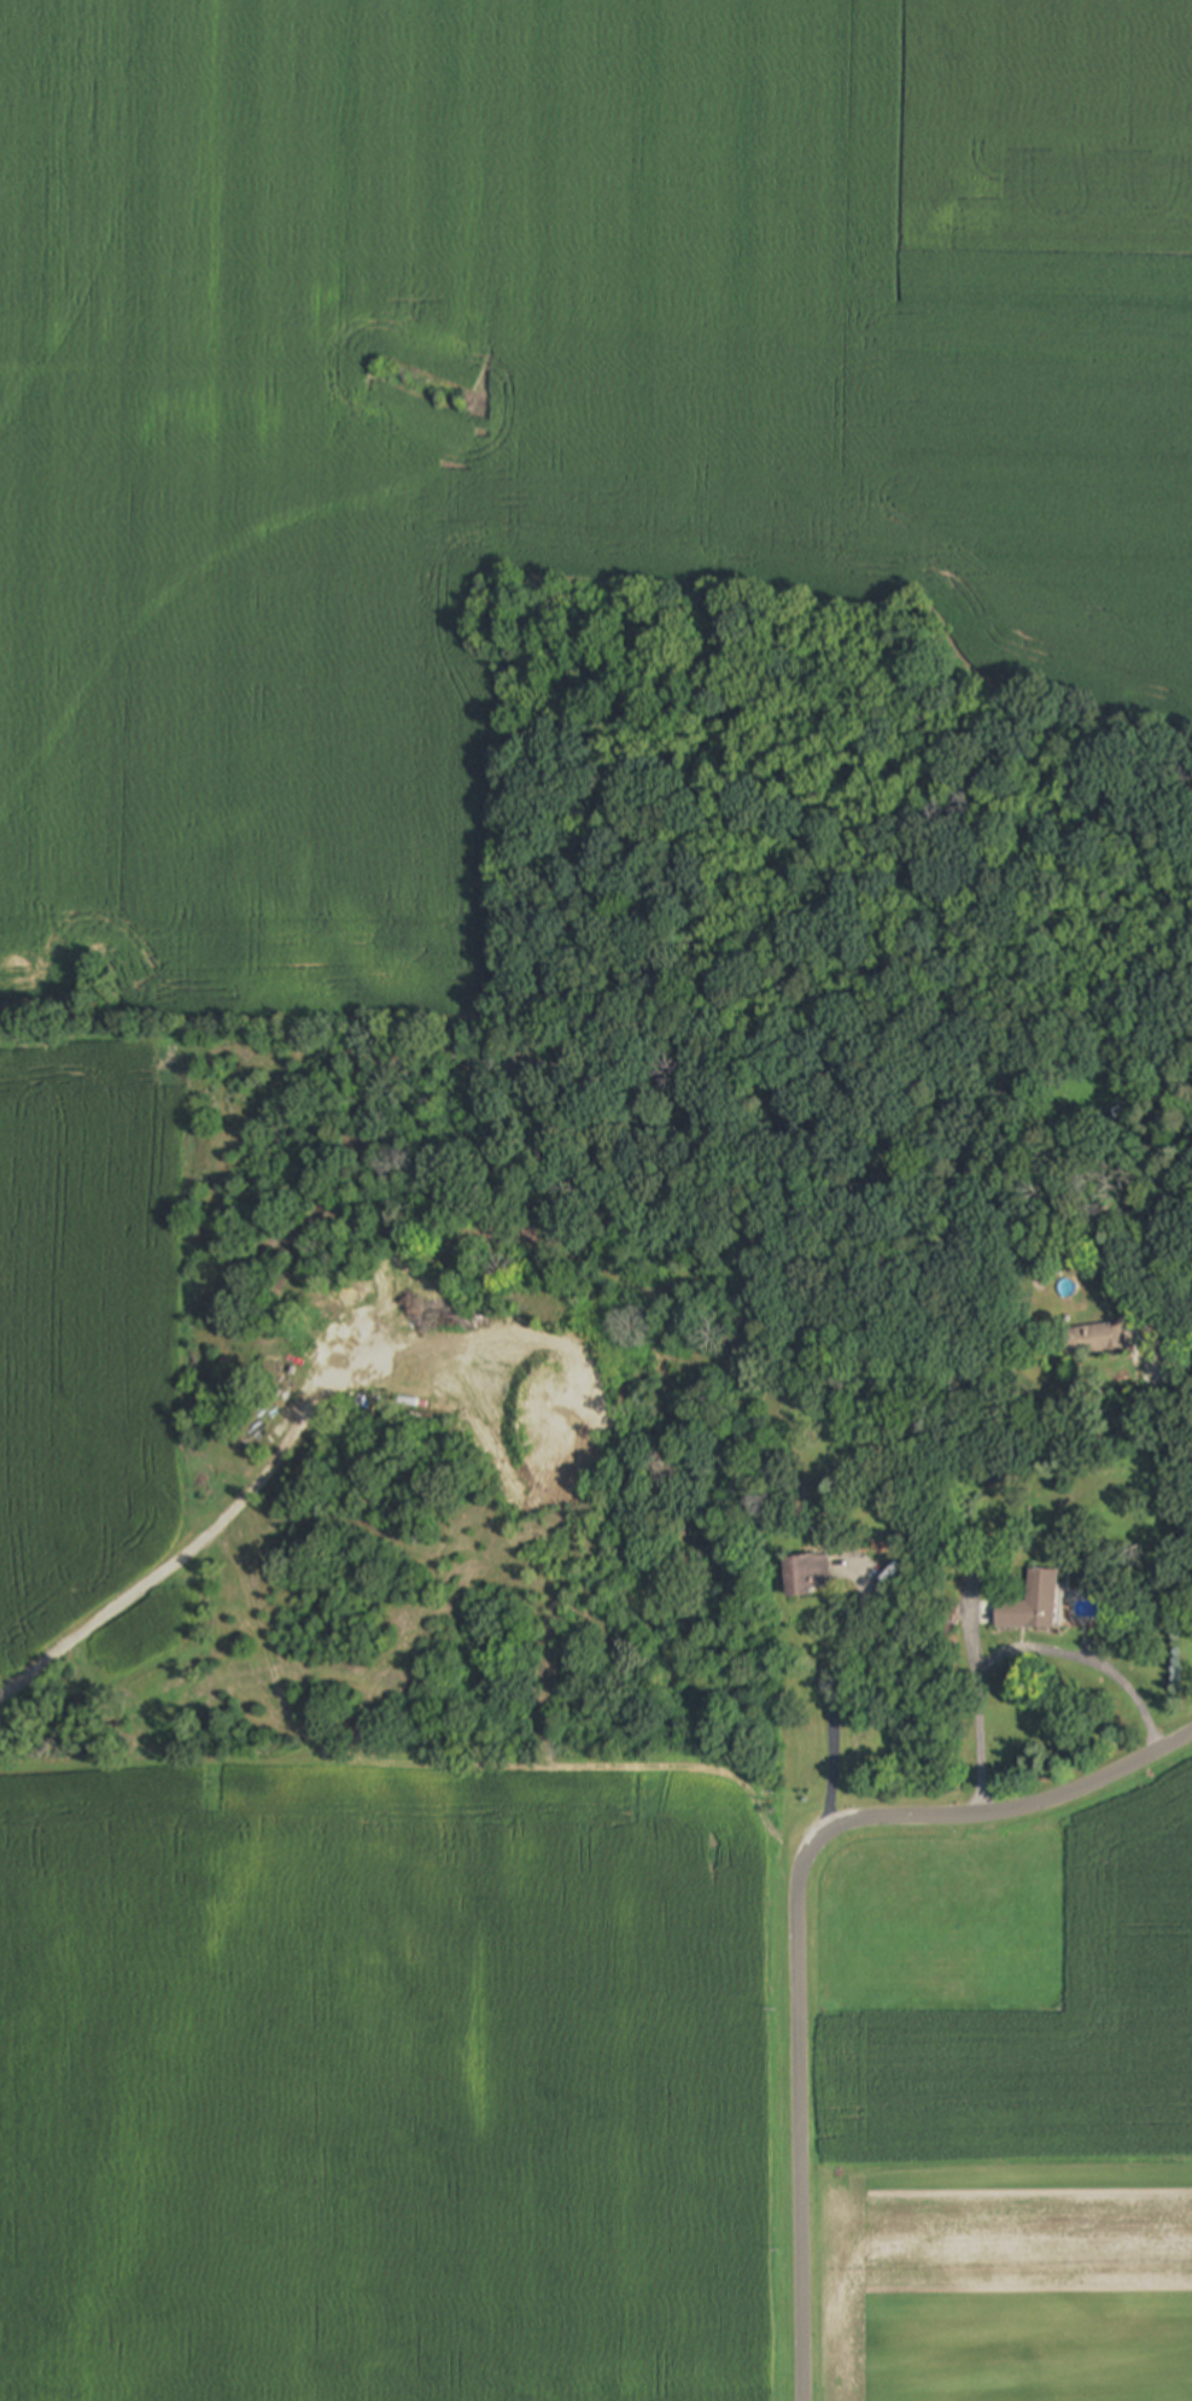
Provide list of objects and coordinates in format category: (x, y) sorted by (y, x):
building: (1097, 1342)
road: (1162, 1362)
road: (204, 1535)
building: (806, 1578)
building: (1034, 1605)
road: (1082, 1659)
road: (974, 1714)
road: (834, 1764)
road: (795, 1917)

